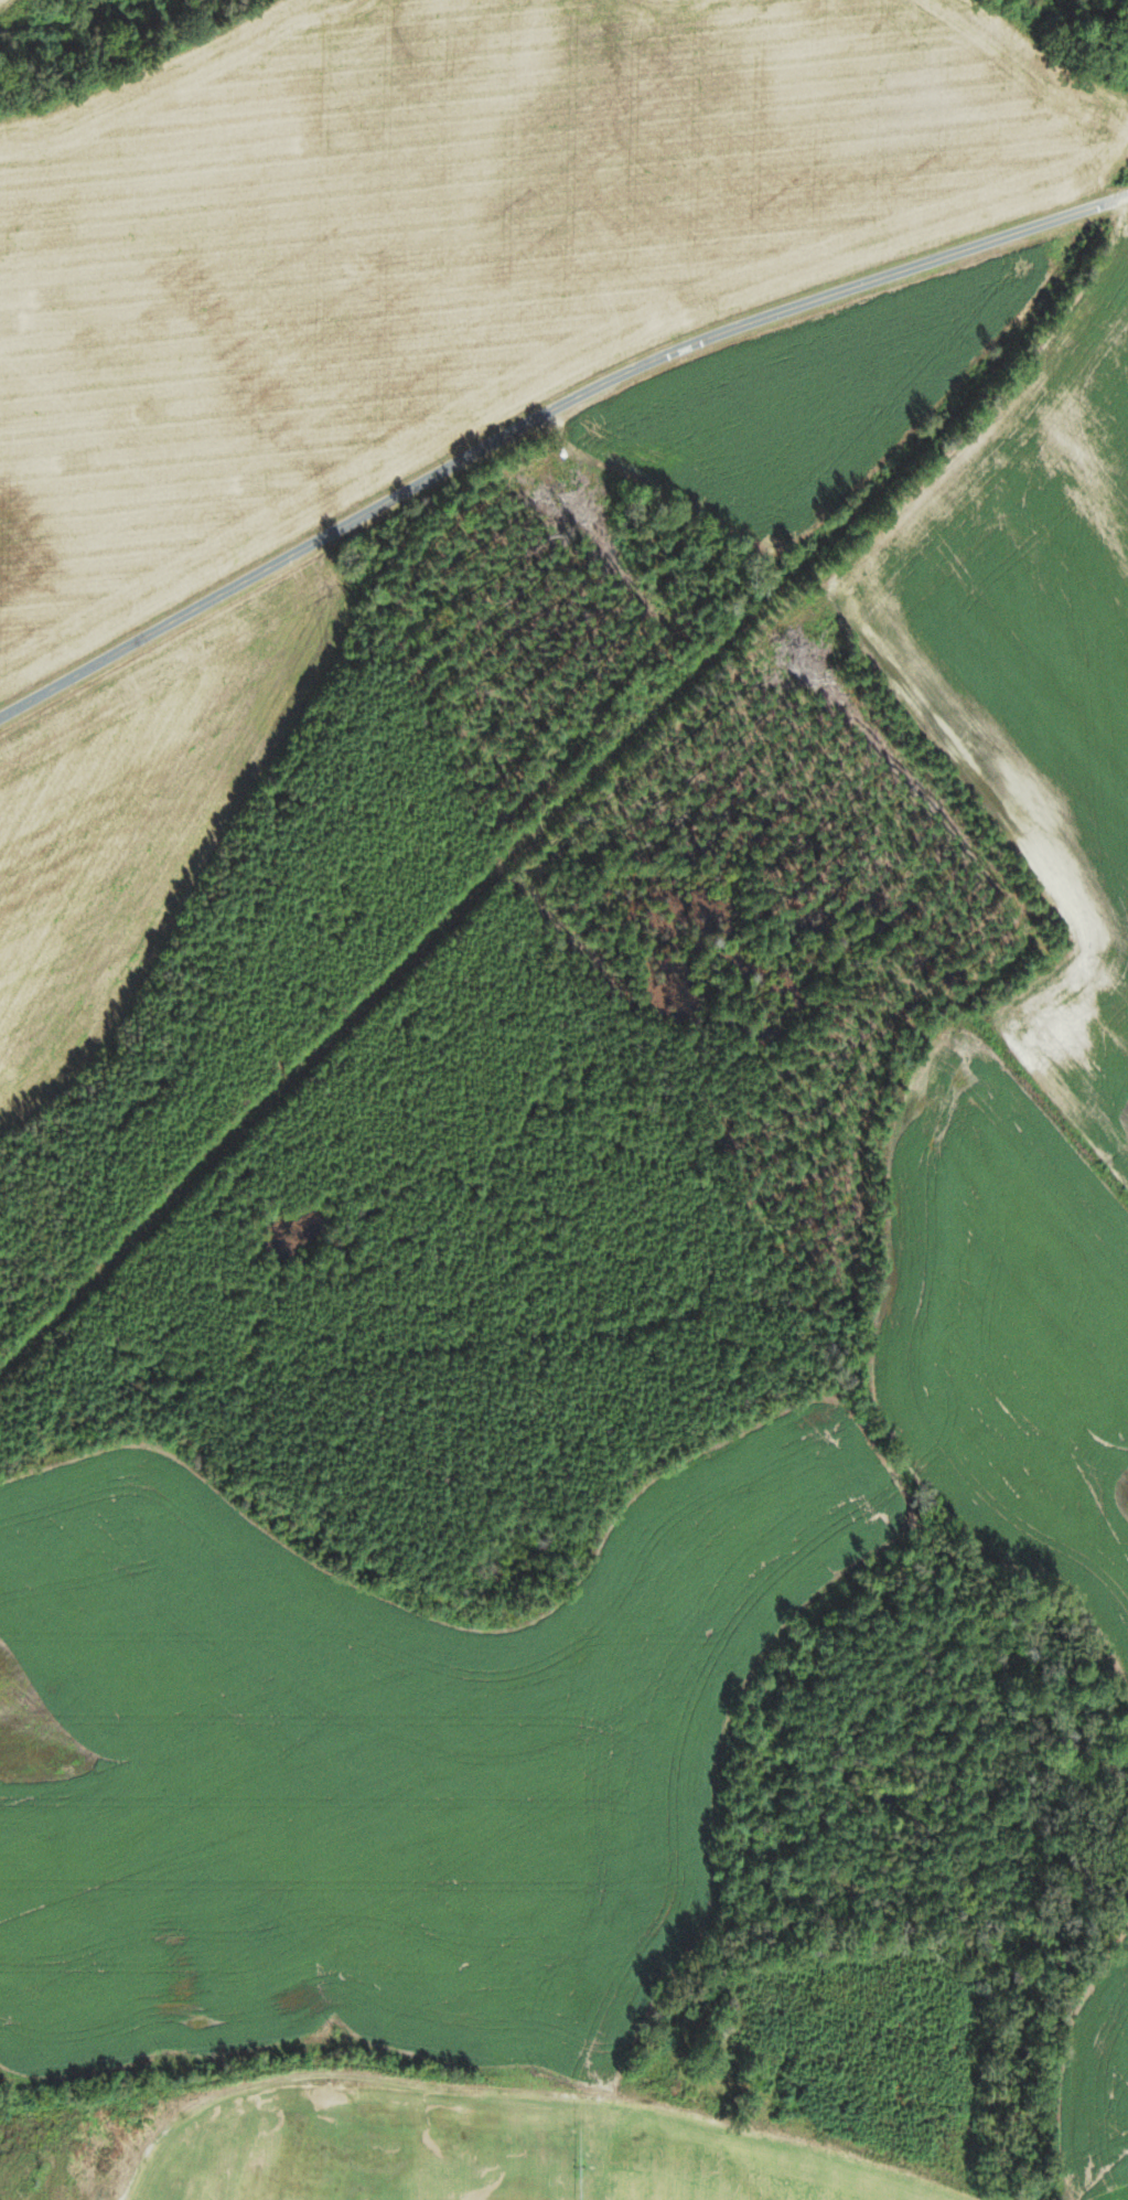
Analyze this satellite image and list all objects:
road: (545, 415)
railway: (577, 780)
building: (810, 2076)

